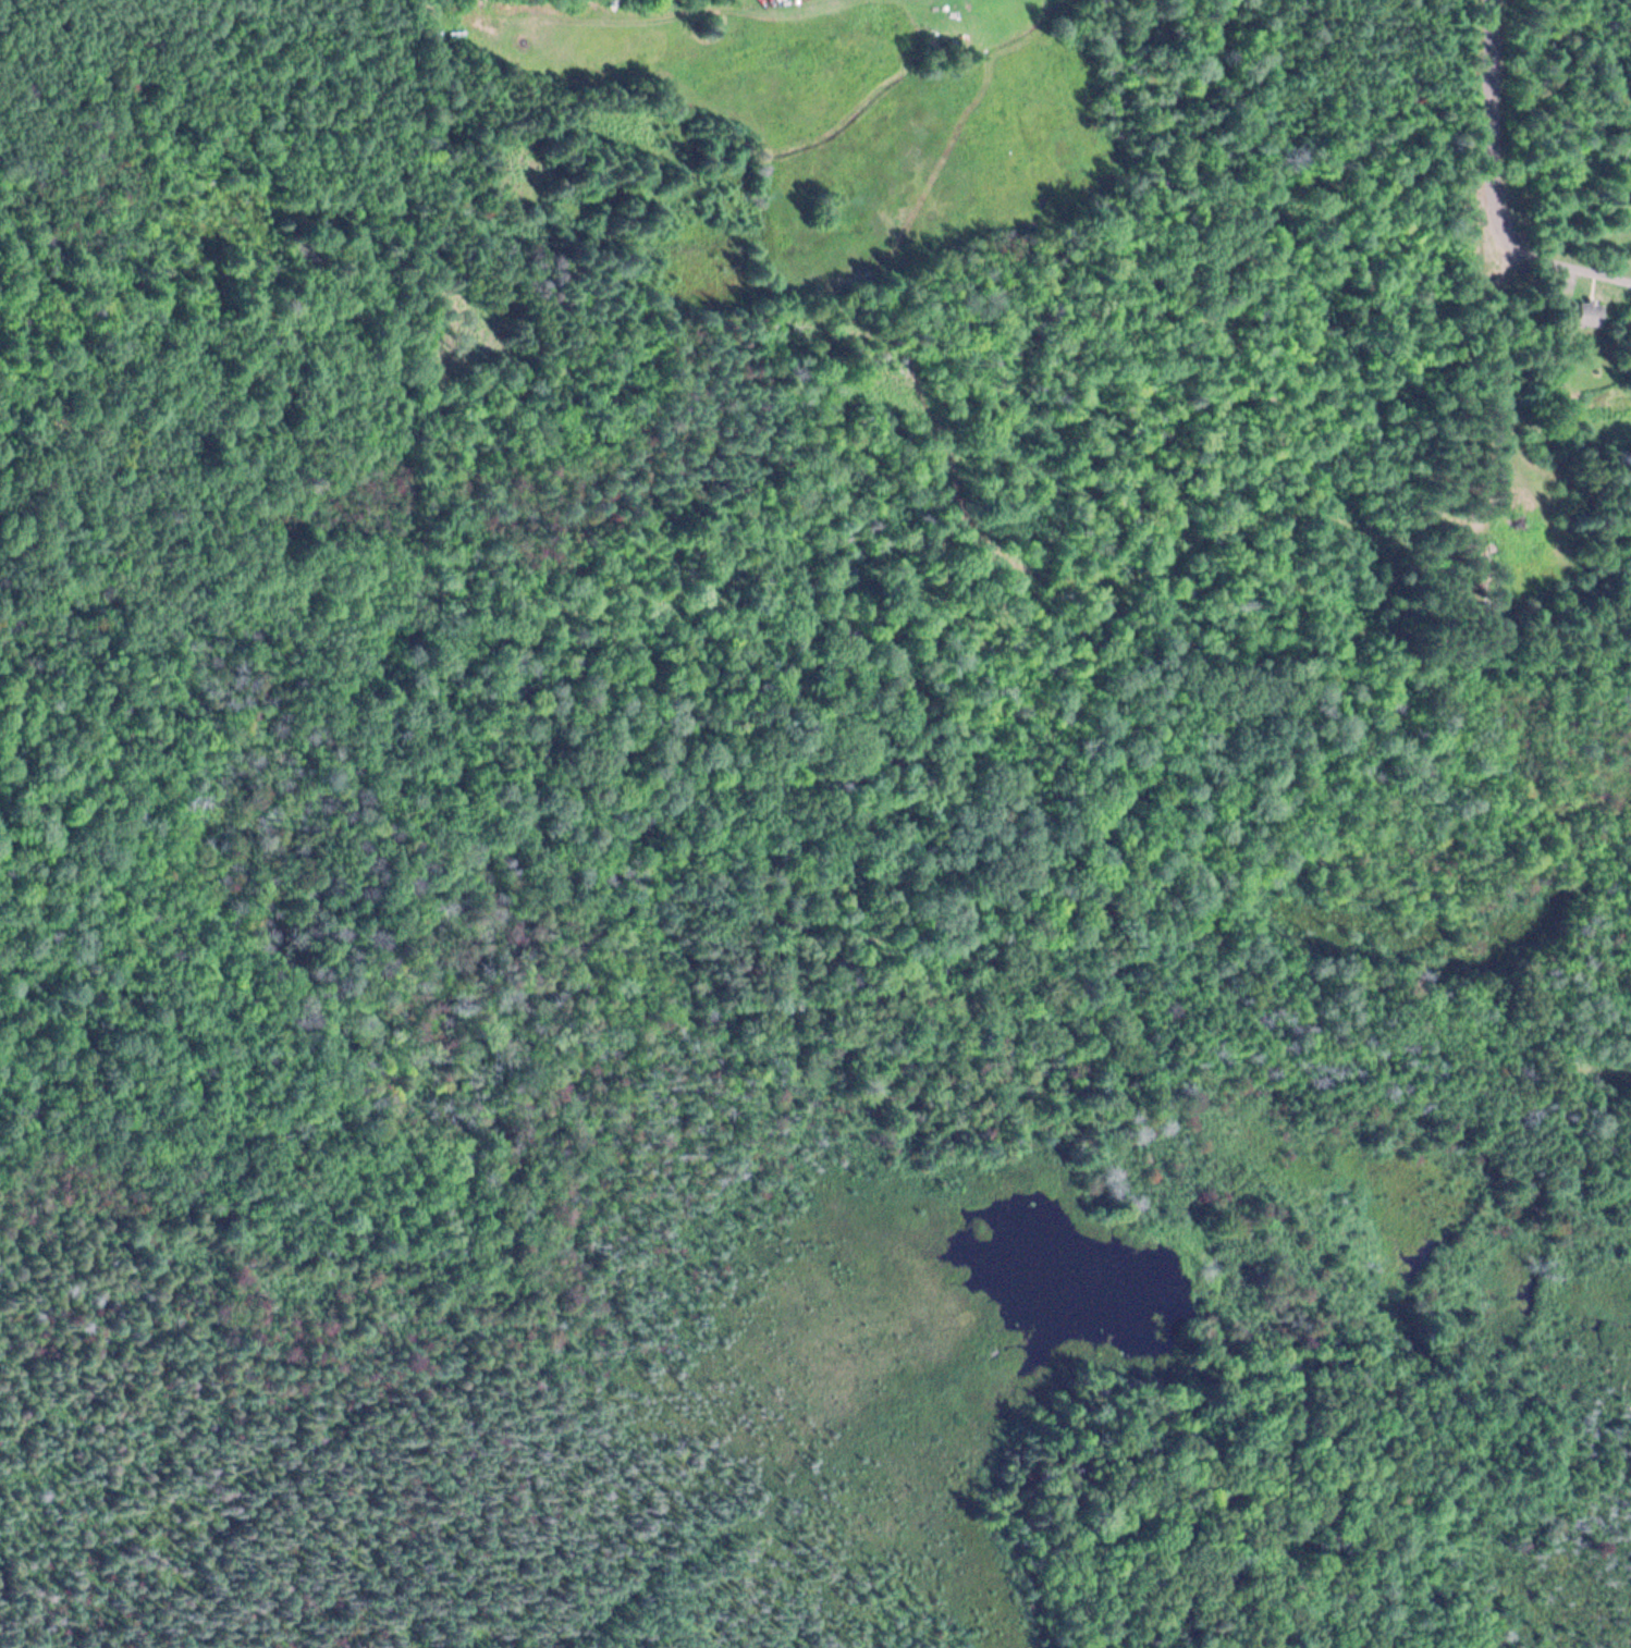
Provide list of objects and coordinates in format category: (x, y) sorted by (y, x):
road: (1505, 126)
road: (1571, 266)
building: (1589, 315)

